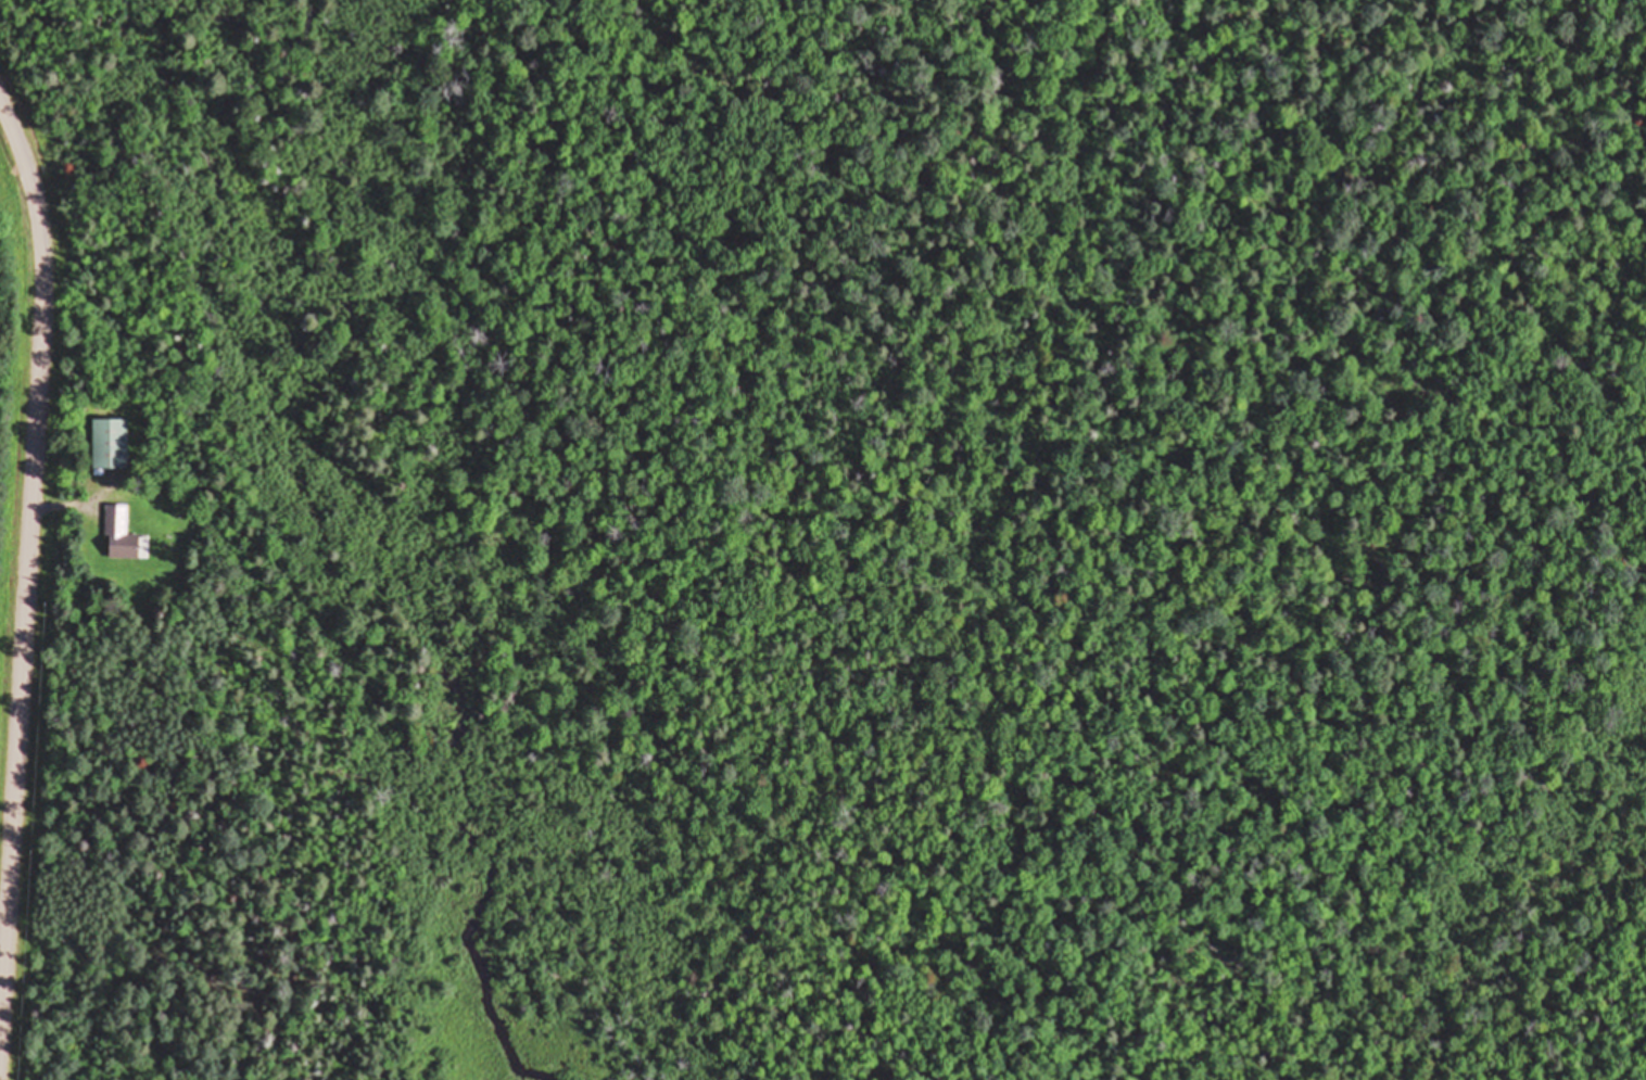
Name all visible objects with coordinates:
building: (110, 442)
road: (61, 506)
building: (119, 534)
road: (27, 548)

